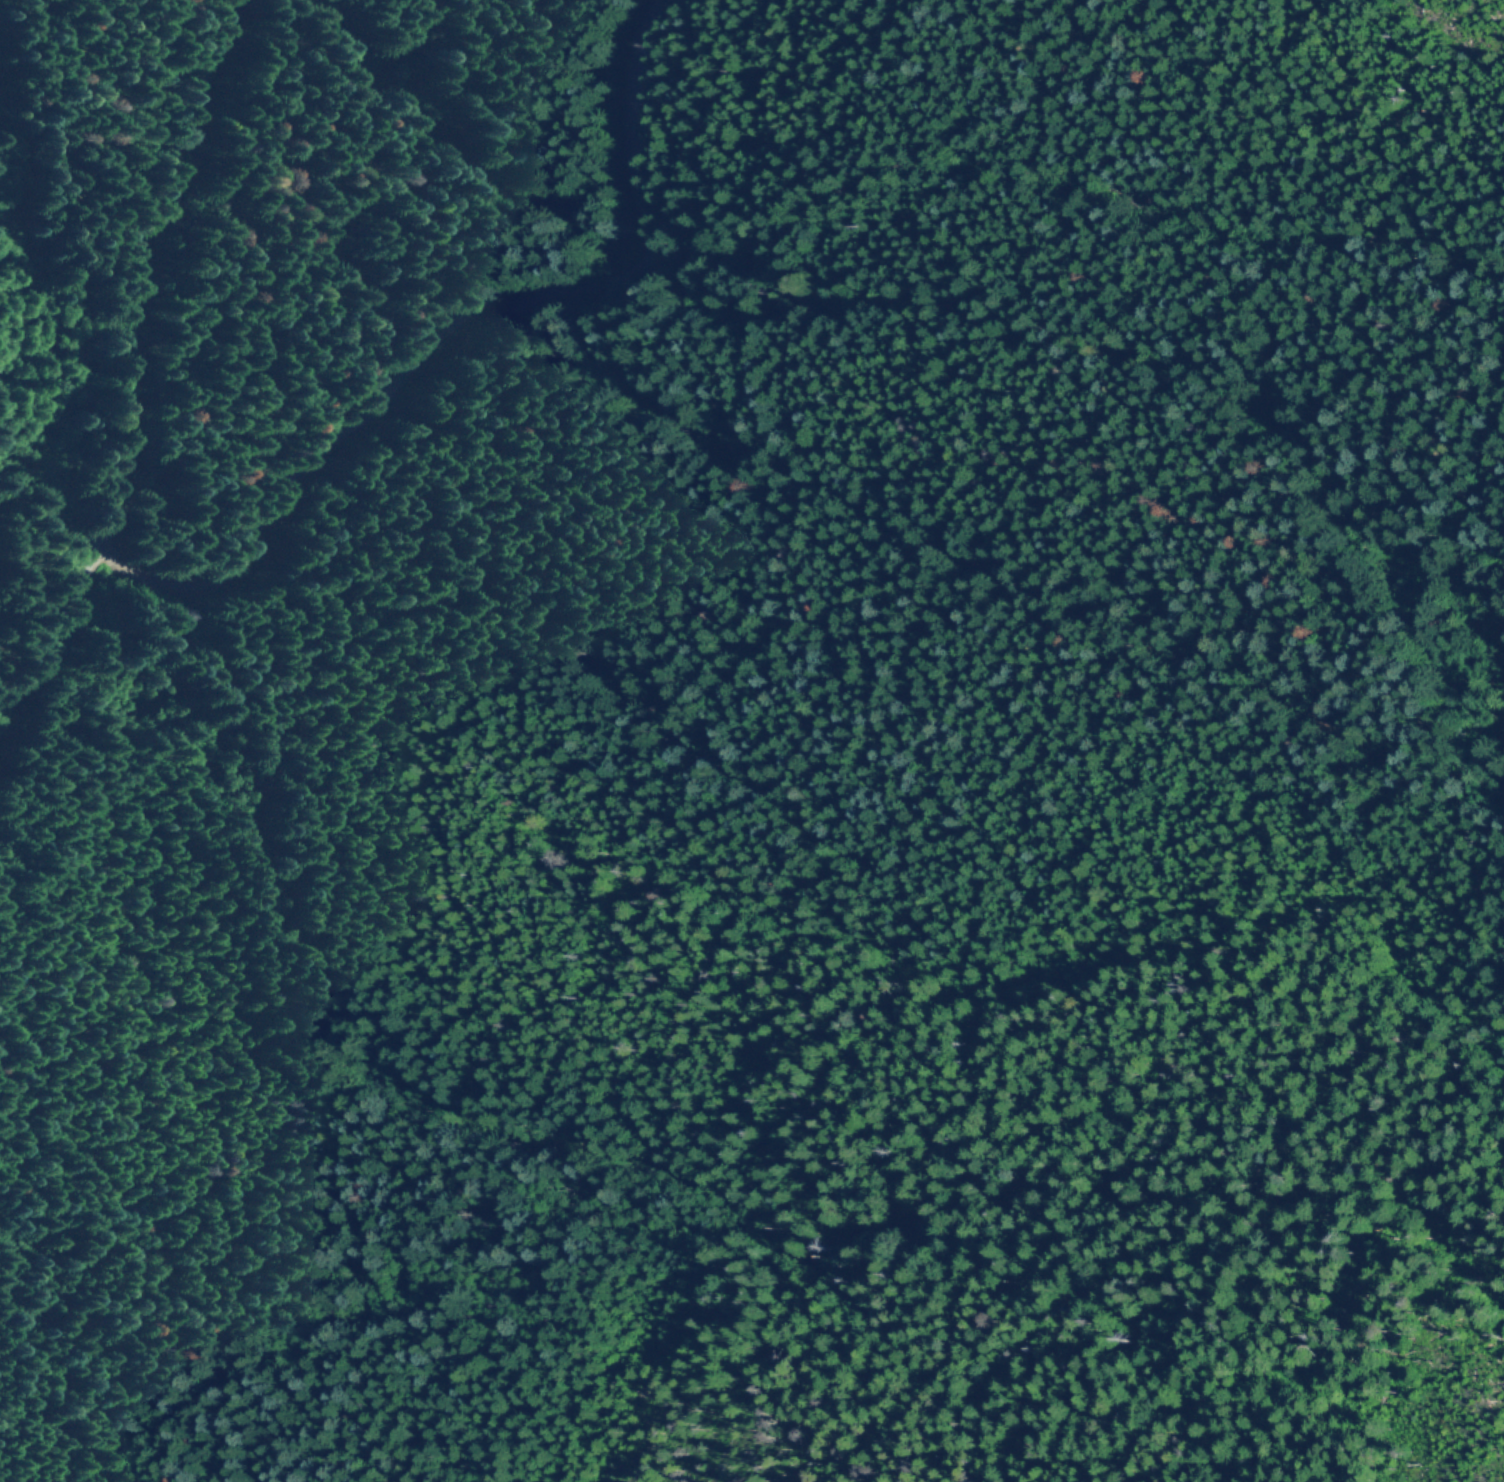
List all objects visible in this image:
road: (165, 272)
road: (457, 345)
road: (57, 660)

